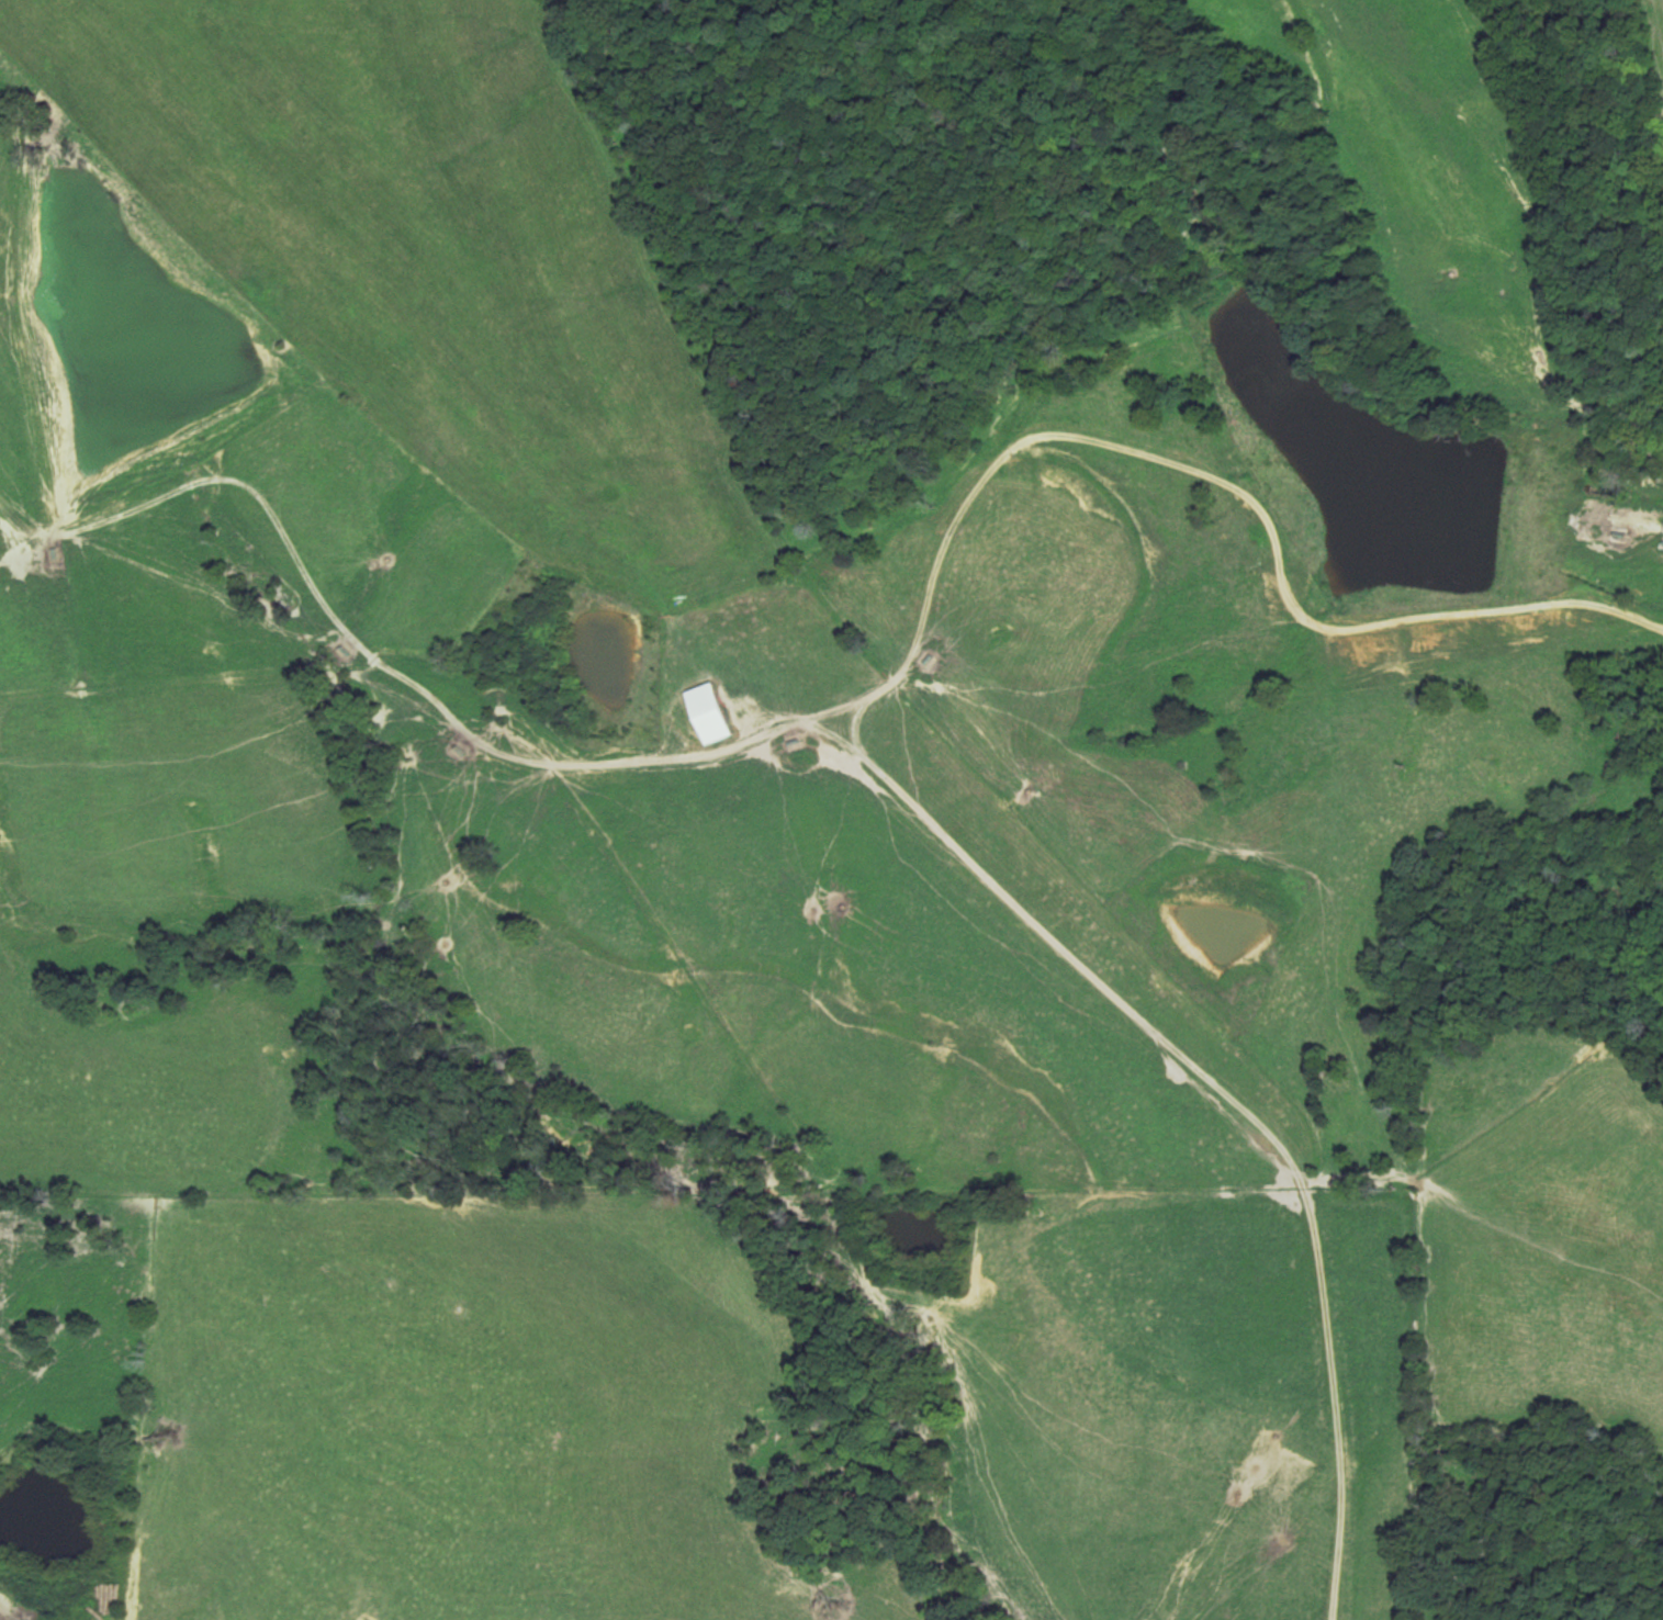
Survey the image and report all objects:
road: (1622, 527)
building: (1607, 572)
building: (710, 711)
building: (1611, 768)

